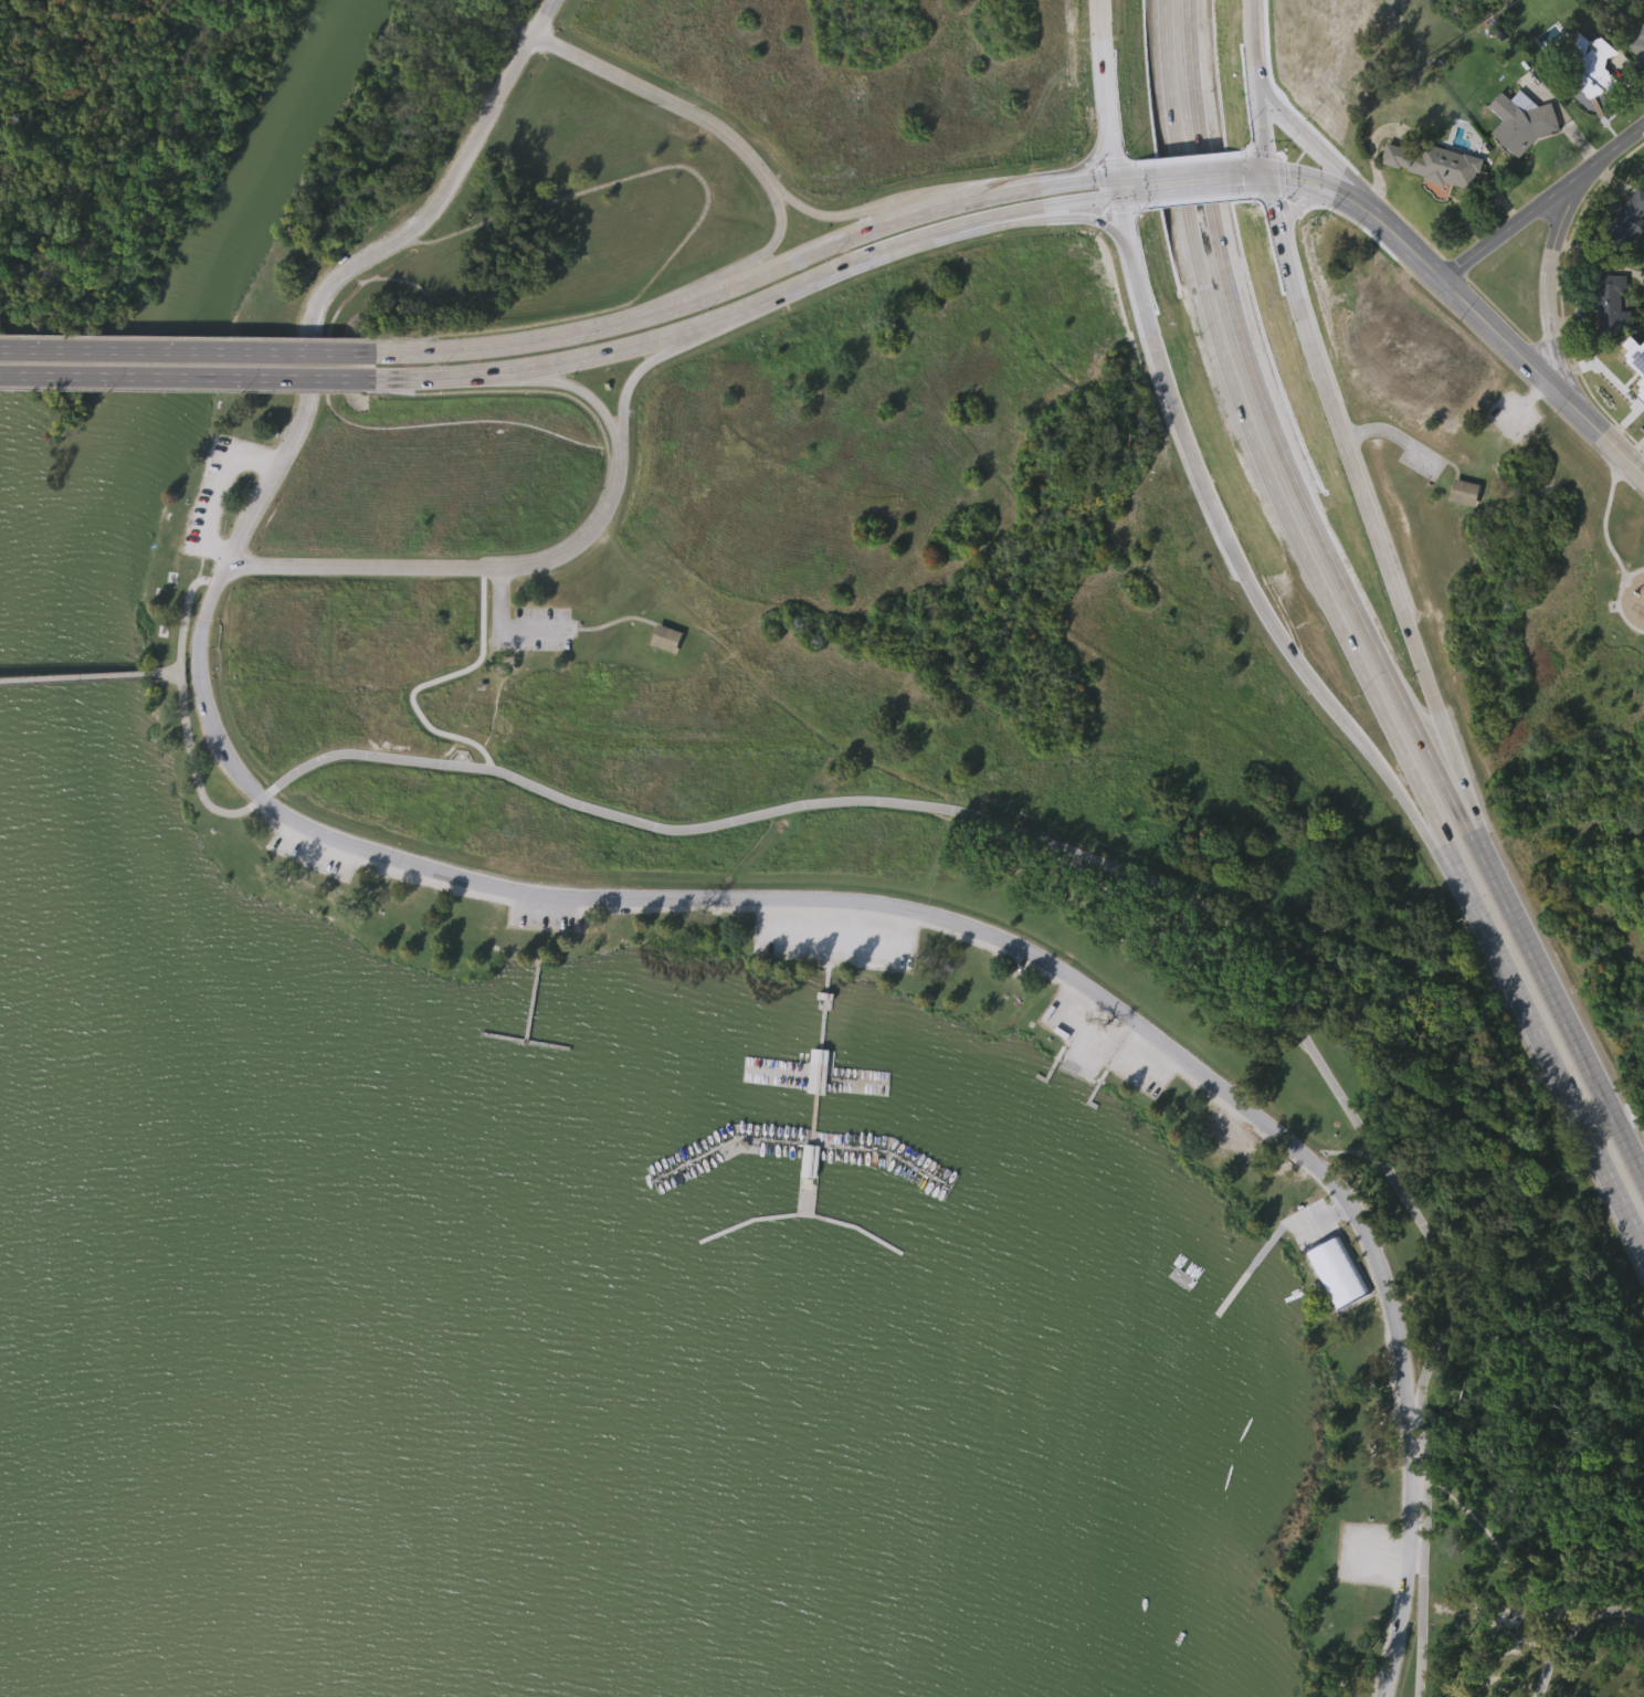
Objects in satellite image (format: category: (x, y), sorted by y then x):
park: (1356, 36)
building: (1640, 41)
building: (1595, 65)
building: (1637, 85)
road: (1106, 92)
road: (668, 106)
building: (1591, 112)
building: (1526, 119)
road: (1319, 149)
road: (1097, 152)
building: (1438, 164)
building: (1524, 165)
road: (1086, 177)
traffic signals: (1271, 179)
road: (1194, 181)
traffic signals: (1118, 185)
road: (973, 196)
road: (1543, 200)
road: (1288, 202)
building: (1434, 205)
road: (1068, 207)
road: (836, 218)
road: (1082, 219)
building: (1626, 219)
road: (770, 244)
building: (1631, 255)
road: (351, 270)
road: (1547, 285)
building: (1609, 301)
road: (1471, 304)
road: (642, 314)
road: (702, 333)
building: (1609, 344)
road: (187, 351)
road: (187, 376)
road: (629, 389)
road: (582, 393)
building: (1635, 402)
road: (1336, 422)
road: (1276, 433)
road: (1254, 445)
road: (1194, 462)
road: (217, 486)
building: (1464, 491)
road: (1604, 517)
building: (1463, 534)
road: (461, 569)
road: (1619, 597)
road: (185, 609)
road: (614, 619)
road: (507, 628)
parking lot: (533, 630)
building: (663, 636)
road: (88, 674)
road: (431, 681)
building: (665, 681)
road: (191, 768)
road: (1397, 783)
road: (1163, 886)
park: (784, 892)
road: (976, 929)
pier: (531, 997)
road: (1558, 1004)
pier: (524, 1039)
road: (1100, 1048)
road: (1090, 1050)
road: (1549, 1054)
building: (815, 1069)
pier: (813, 1075)
pier: (815, 1082)
pier: (801, 1140)
building: (808, 1159)
pier: (1250, 1272)
road: (1570, 1626)

